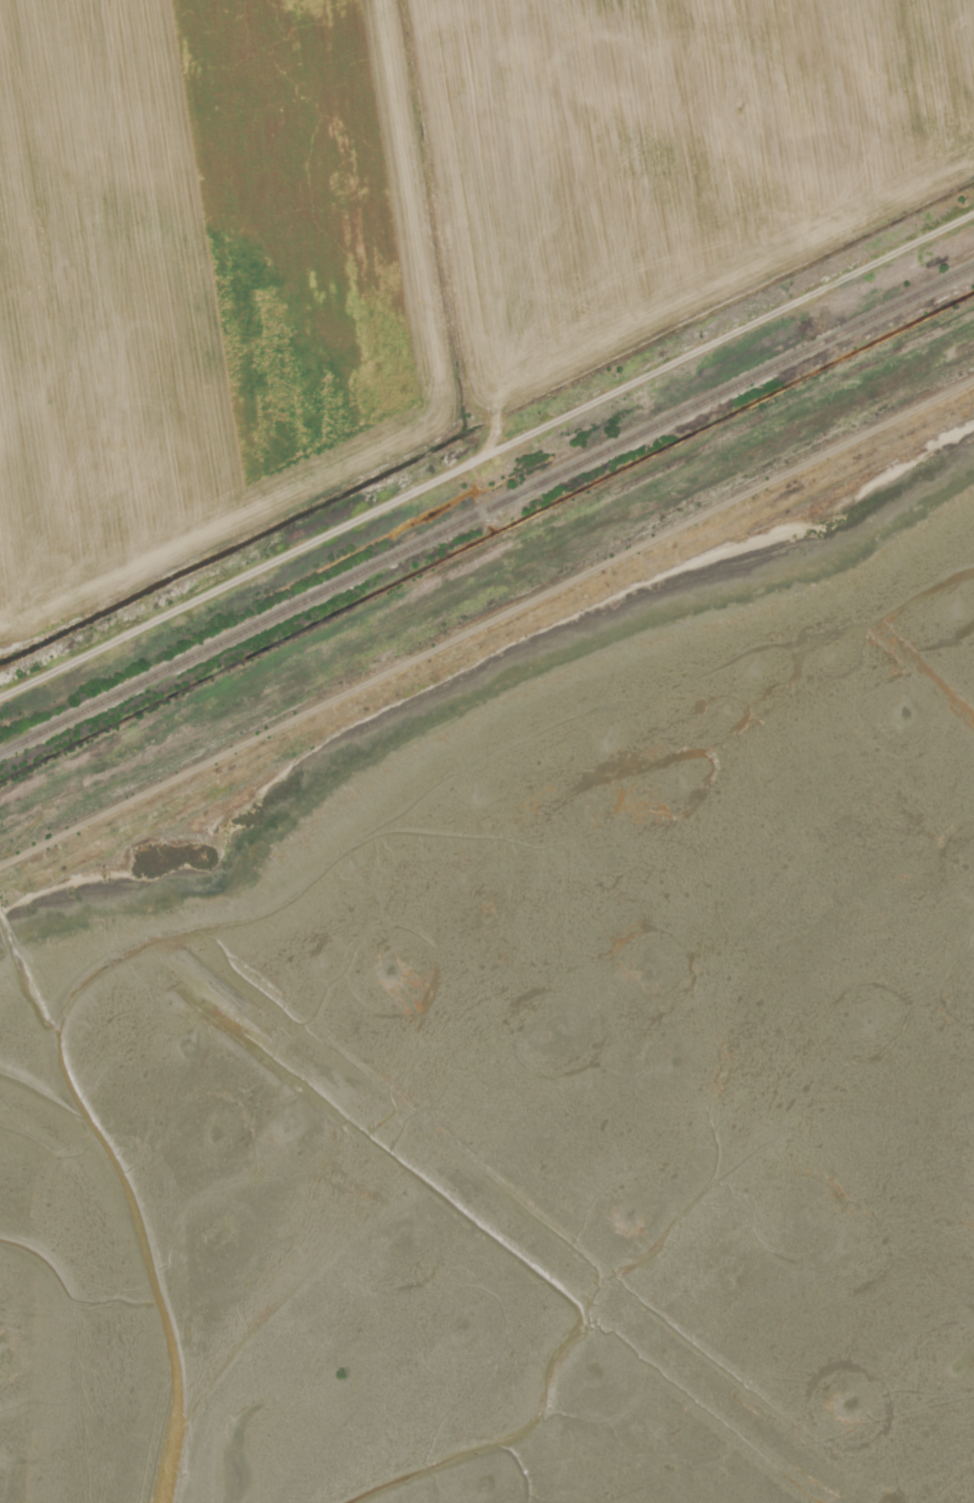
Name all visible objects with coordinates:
railway: (487, 511)
road: (486, 623)

